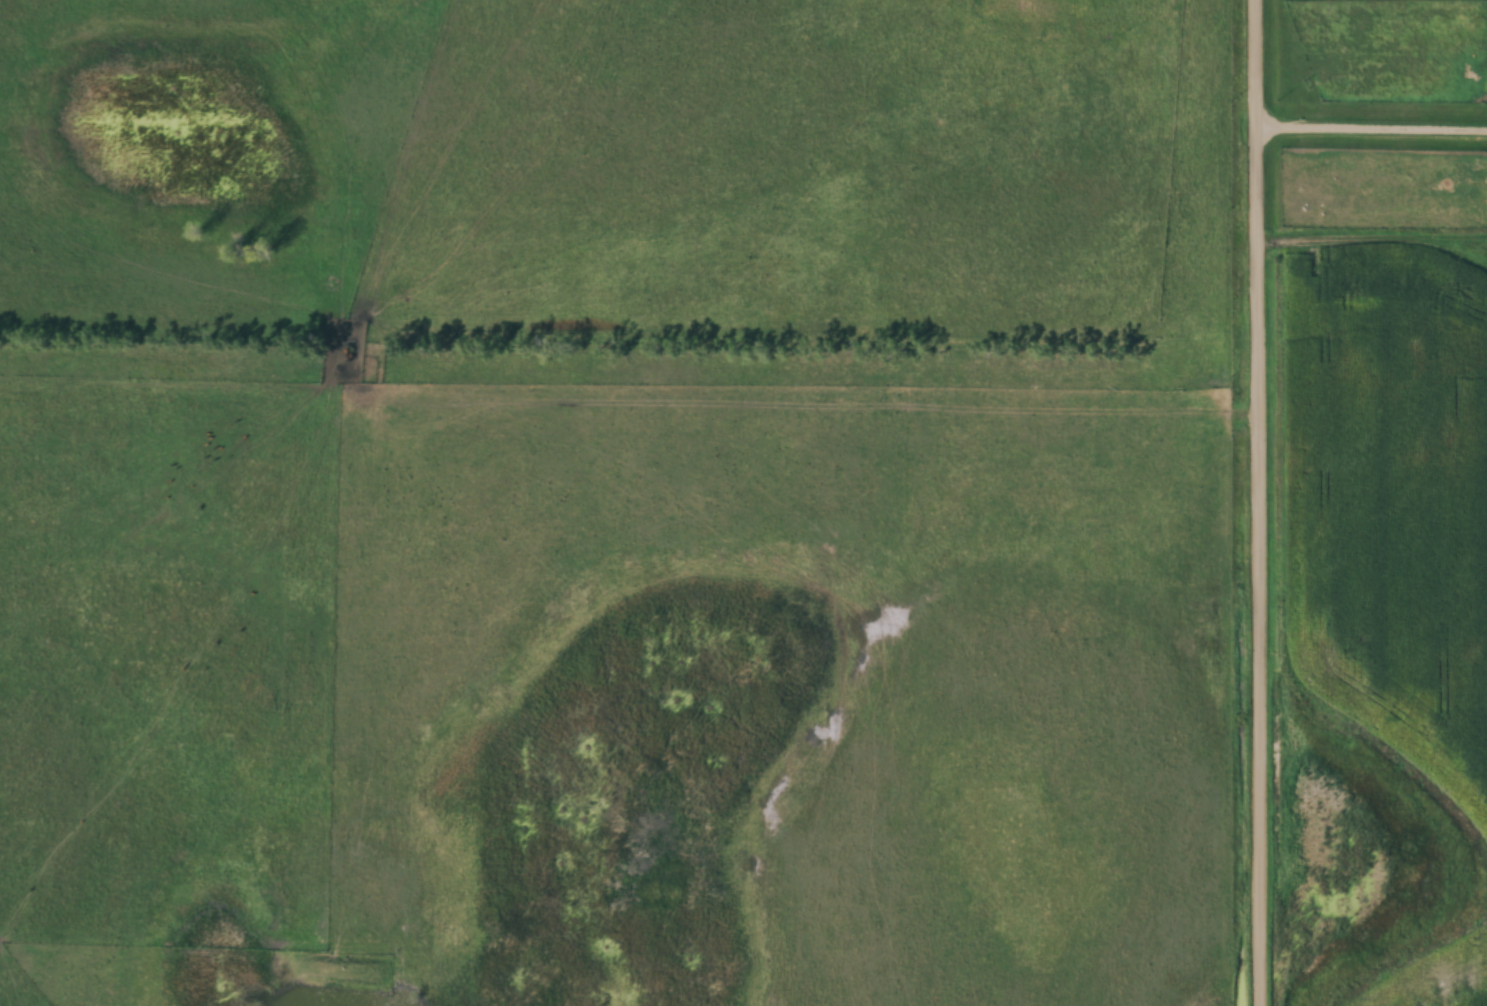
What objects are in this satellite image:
road: (1375, 128)
road: (1264, 502)

